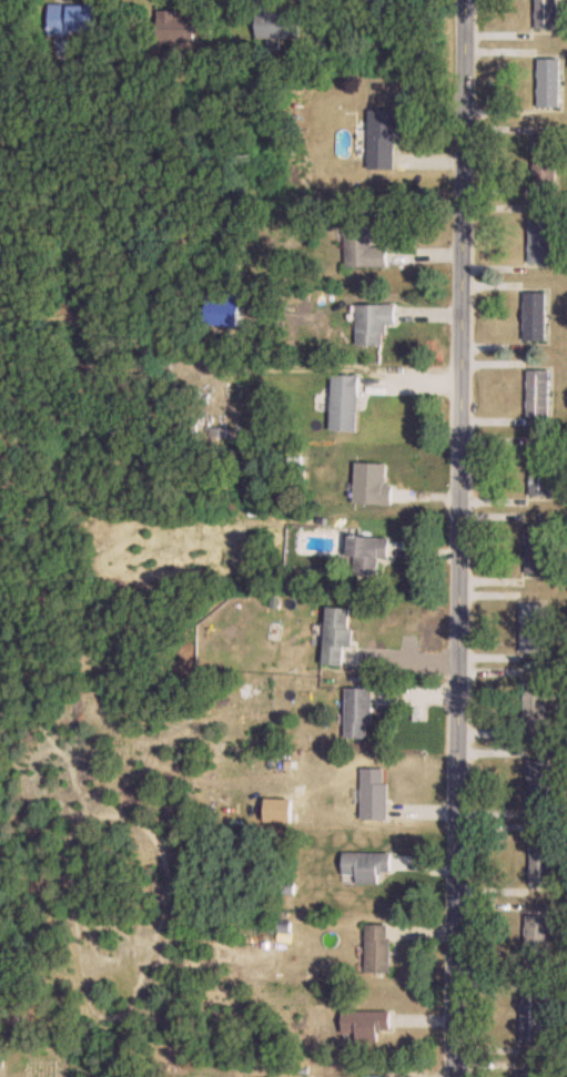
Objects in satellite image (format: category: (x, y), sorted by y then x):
building: (545, 14)
building: (71, 19)
building: (273, 21)
building: (176, 27)
building: (548, 83)
building: (382, 140)
building: (544, 165)
building: (538, 237)
building: (361, 248)
building: (534, 316)
building: (373, 324)
building: (537, 394)
building: (344, 404)
building: (540, 473)
building: (371, 486)
road: (457, 538)
building: (536, 549)
building: (366, 555)
building: (531, 629)
building: (336, 634)
building: (534, 705)
building: (357, 713)
building: (537, 784)
building: (374, 794)
building: (540, 862)
building: (364, 867)
building: (536, 938)
building: (377, 949)
building: (531, 1018)
building: (364, 1026)
building: (526, 1074)

